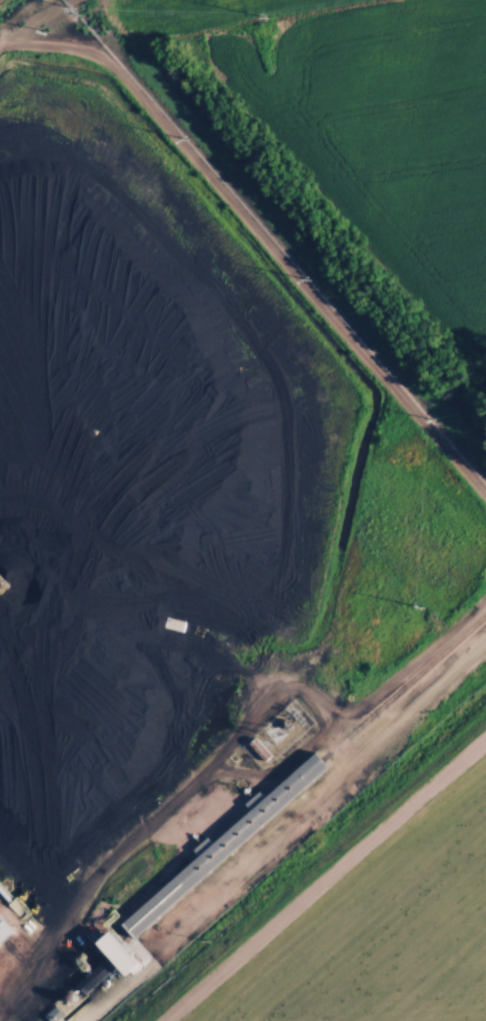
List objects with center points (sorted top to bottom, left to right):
power tower: (72, 6)
power tower: (269, 15)
power plant: (217, 590)
railway: (253, 816)
road: (297, 834)
building: (222, 840)
building: (2, 932)

